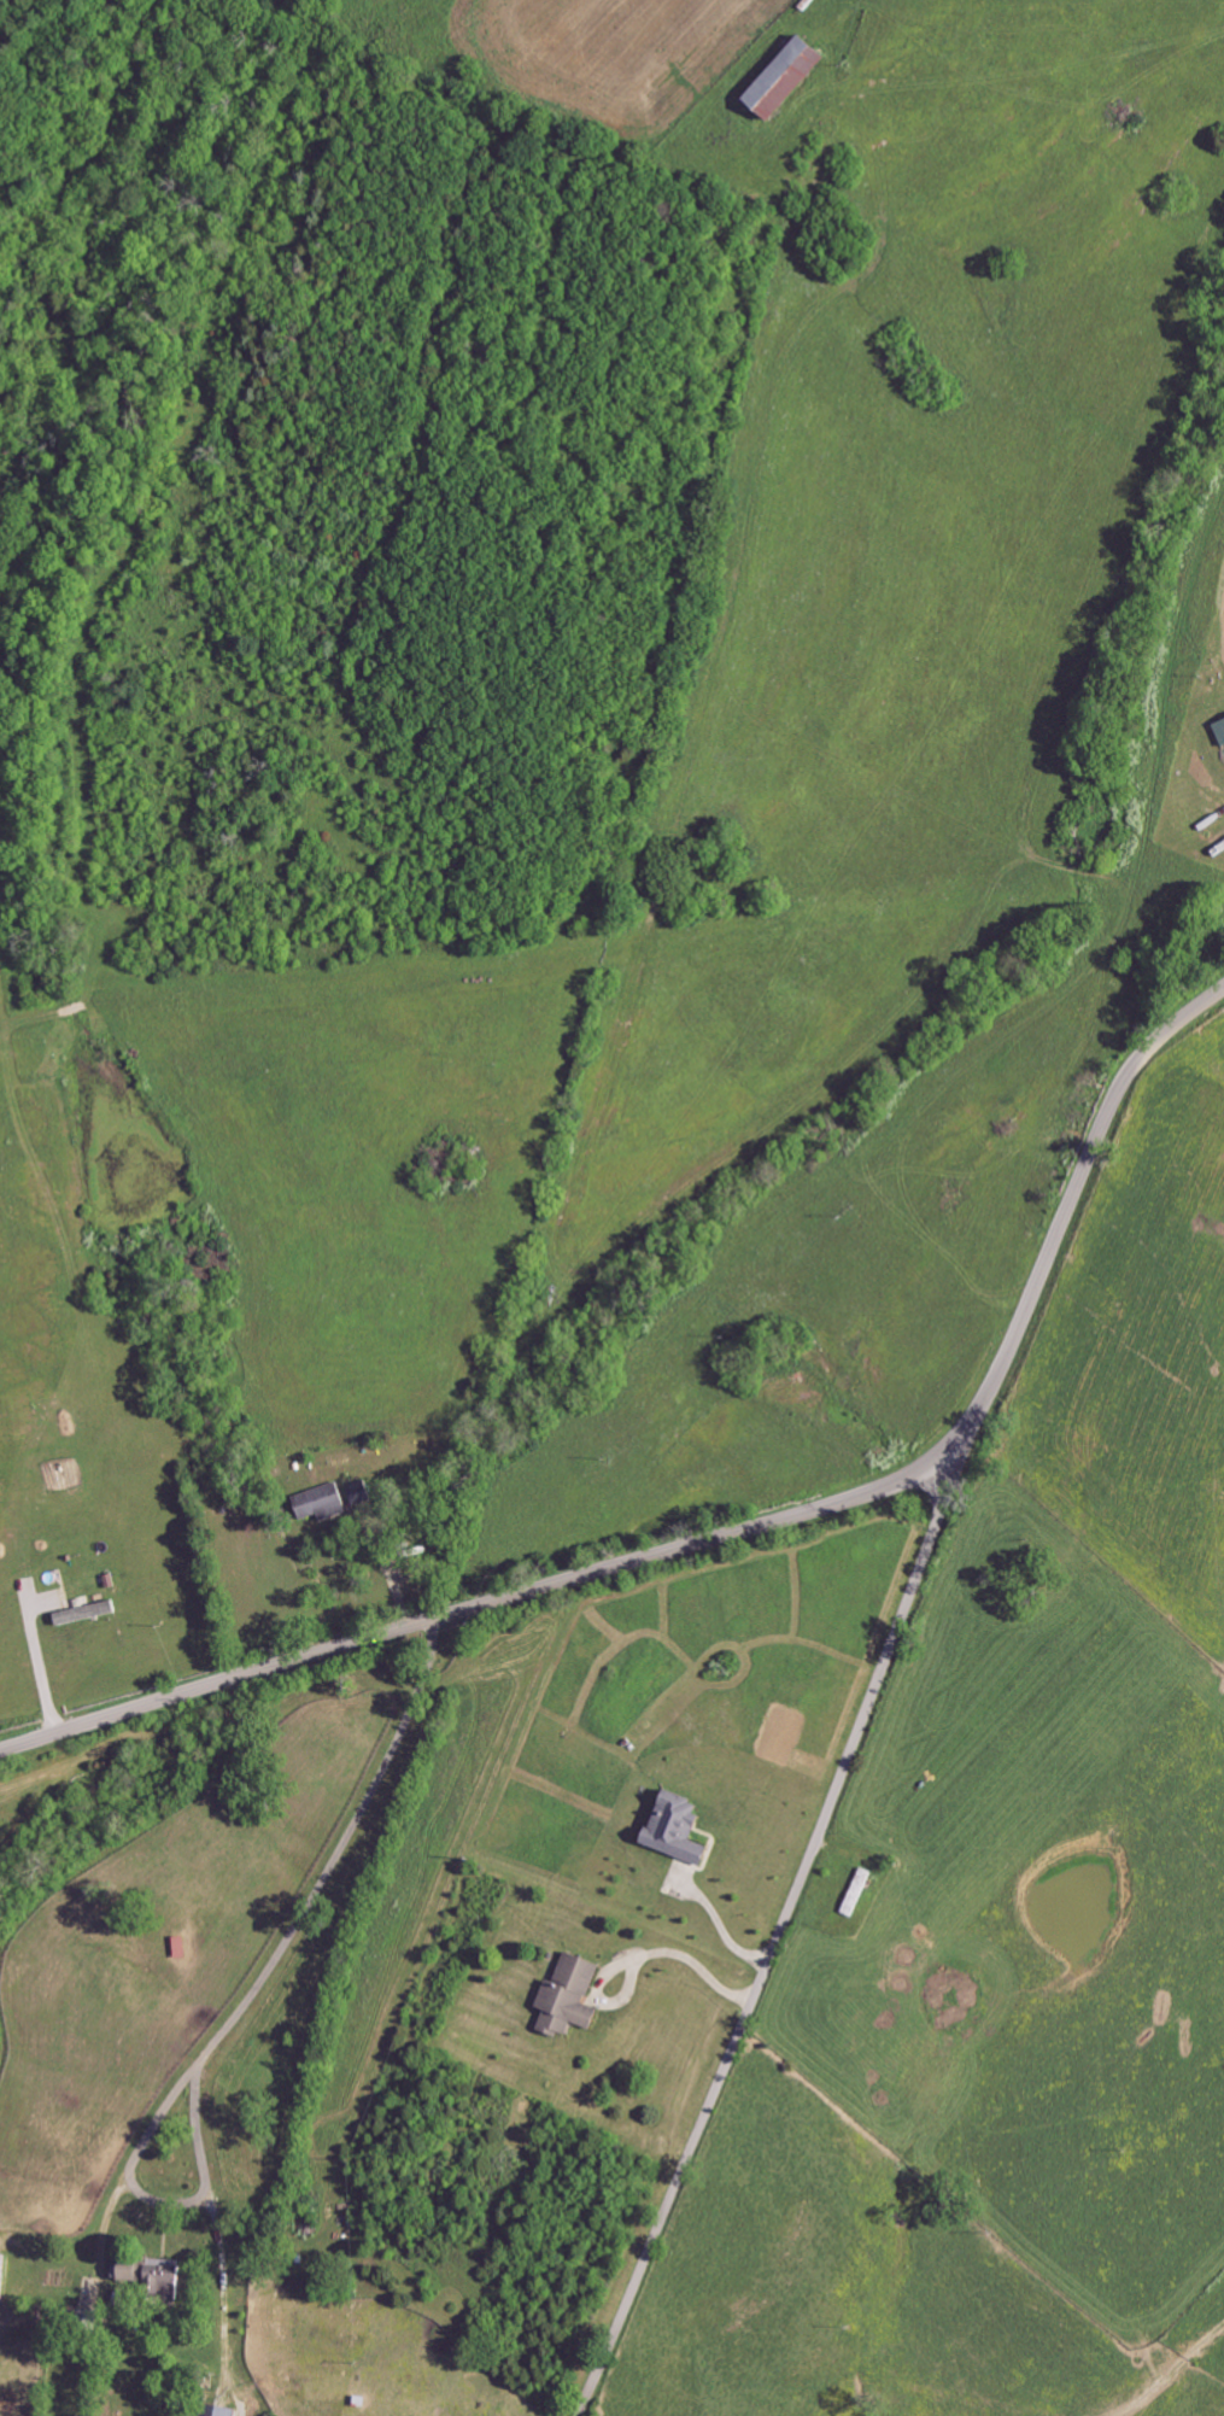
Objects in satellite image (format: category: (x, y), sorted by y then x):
building: (795, 77)
building: (1223, 725)
building: (362, 1493)
building: (327, 1503)
road: (740, 1534)
road: (386, 1570)
building: (88, 1614)
road: (40, 1667)
building: (683, 1829)
road: (784, 1921)
road: (720, 1927)
building: (182, 1948)
road: (691, 1964)
building: (574, 1997)
road: (245, 2002)
building: (133, 2271)
building: (4, 2278)
building: (169, 2281)
building: (227, 2411)

